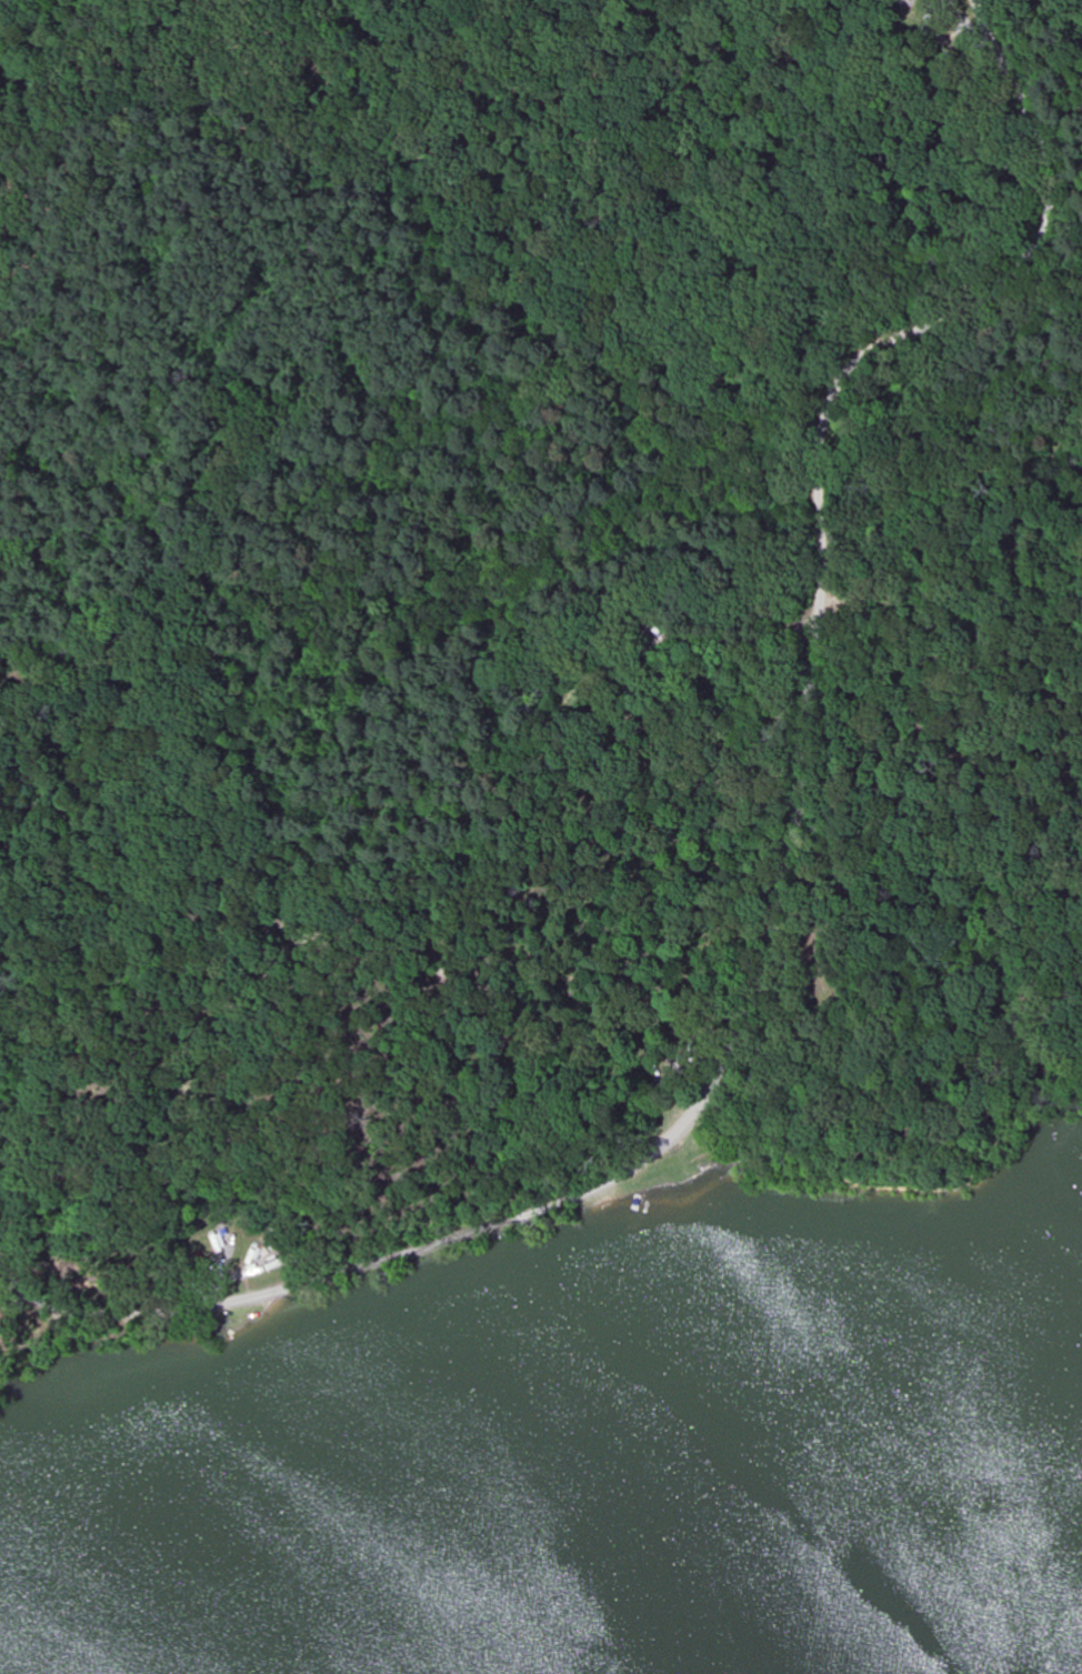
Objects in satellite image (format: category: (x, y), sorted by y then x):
road: (964, 10)
road: (1033, 143)
road: (733, 1030)

